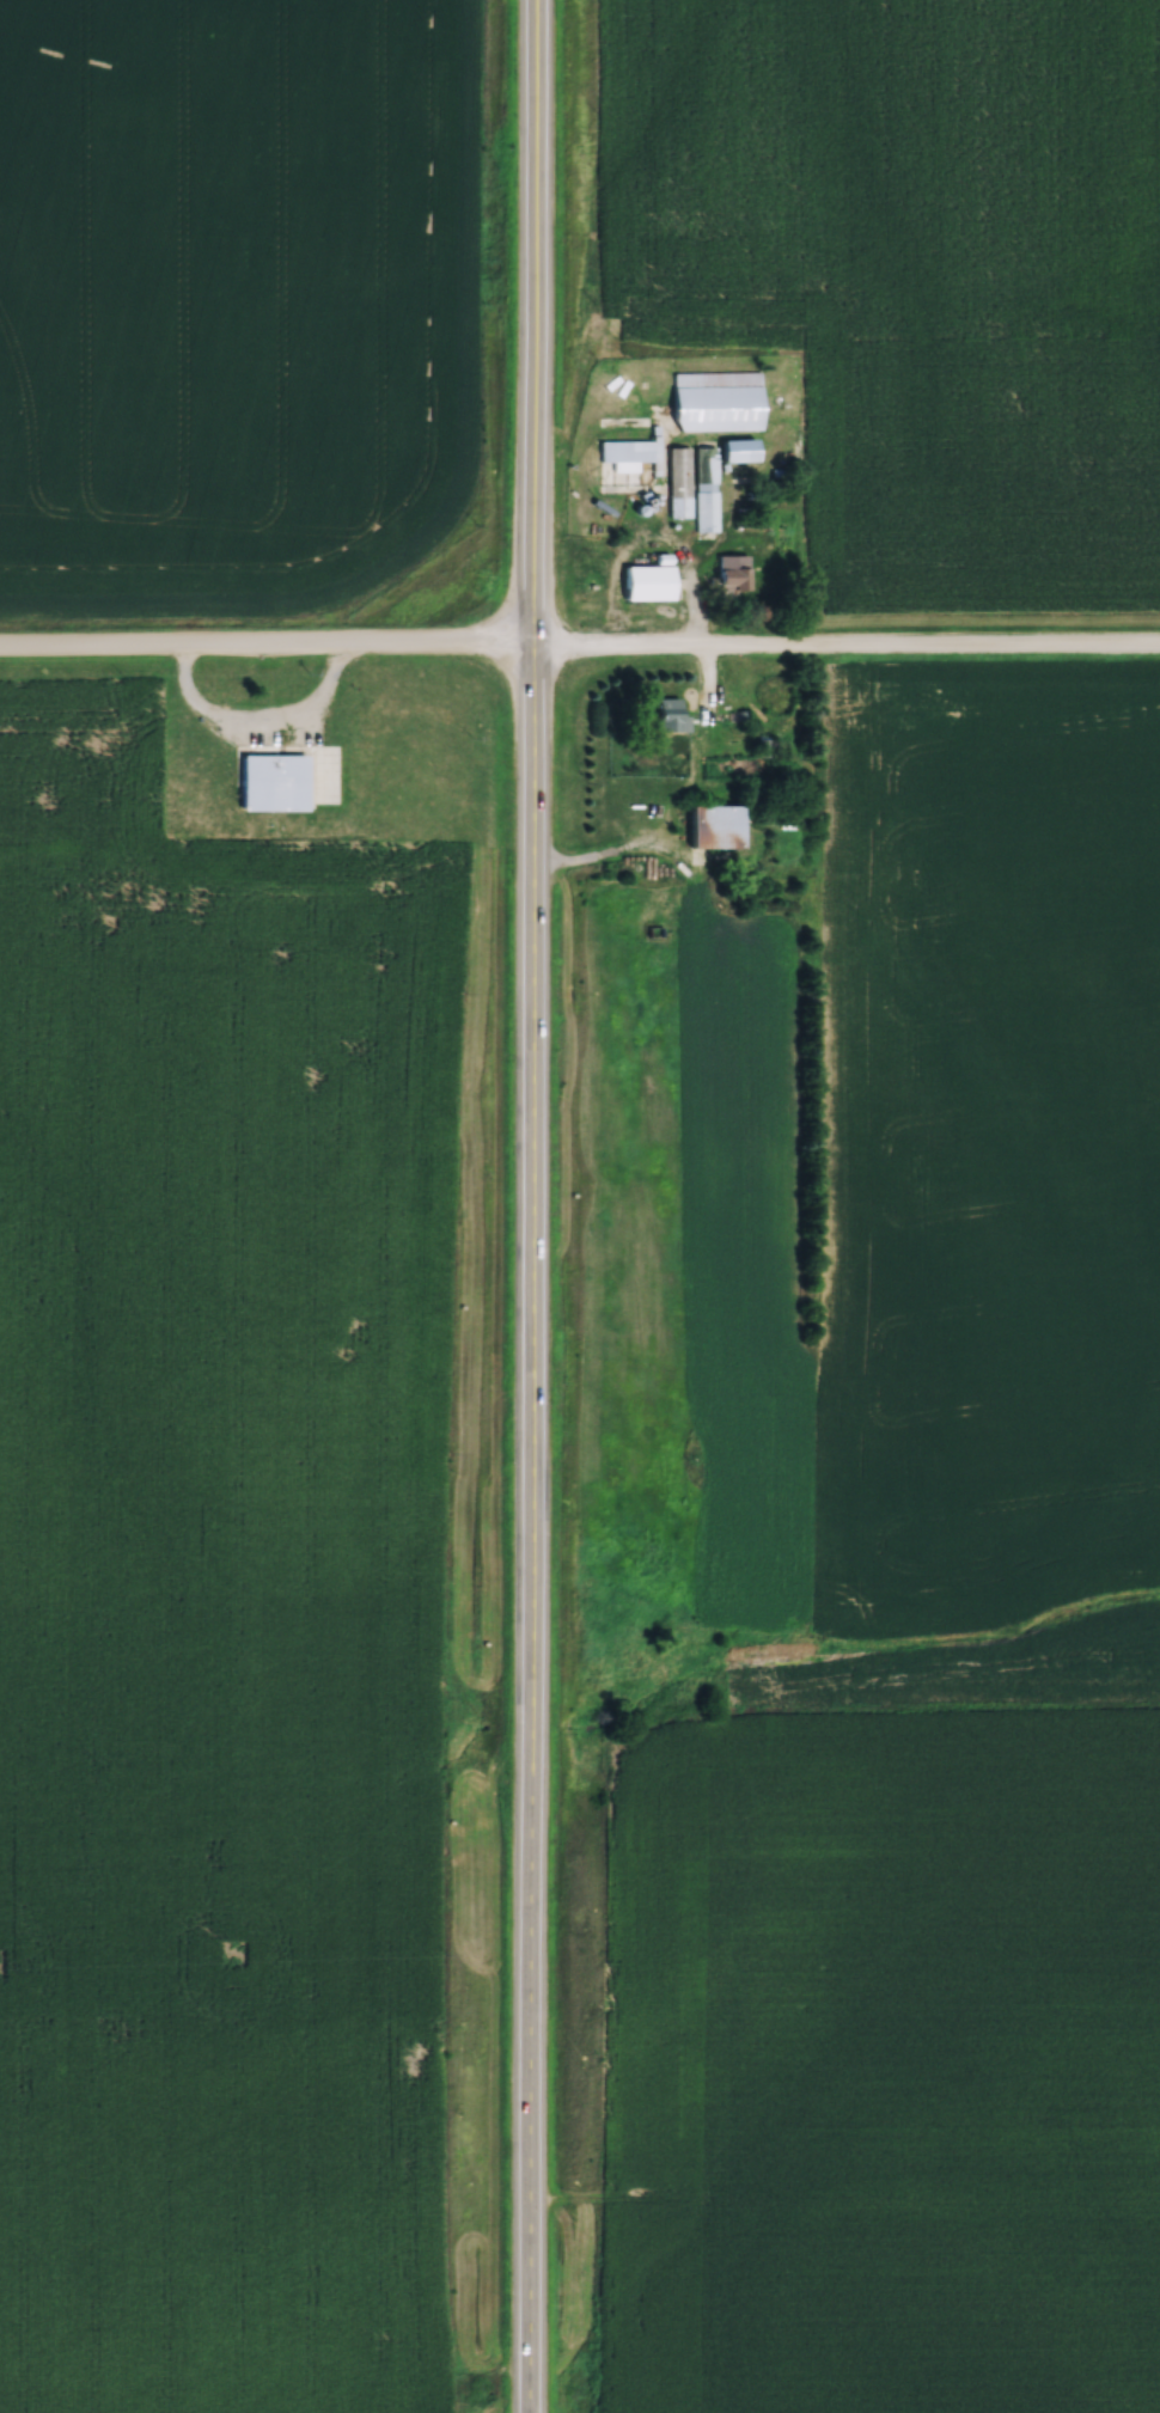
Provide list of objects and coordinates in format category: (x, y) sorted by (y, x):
building: (712, 397)
building: (628, 450)
building: (706, 474)
building: (683, 479)
building: (604, 524)
road: (660, 531)
building: (731, 570)
building: (648, 579)
road: (267, 648)
road: (845, 649)
building: (666, 713)
road: (267, 740)
building: (291, 776)
building: (713, 825)
road: (610, 860)
road: (535, 1205)

